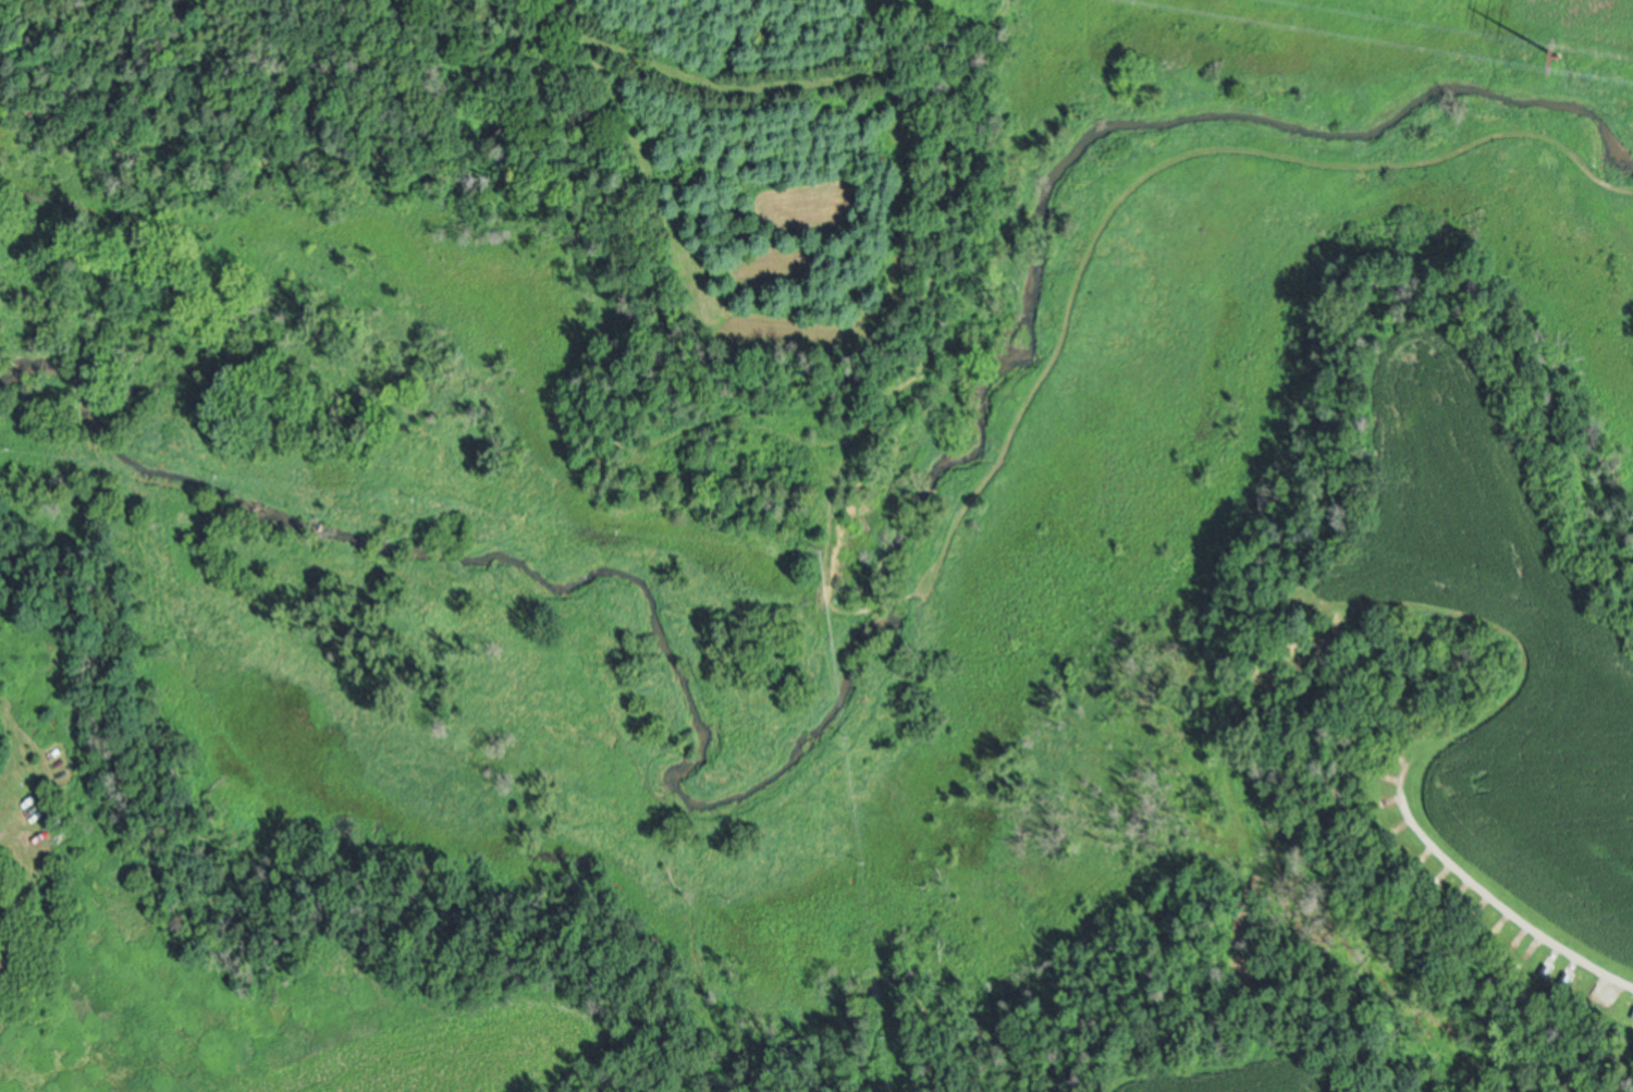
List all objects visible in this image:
power tower: (1558, 50)
road: (1496, 905)

